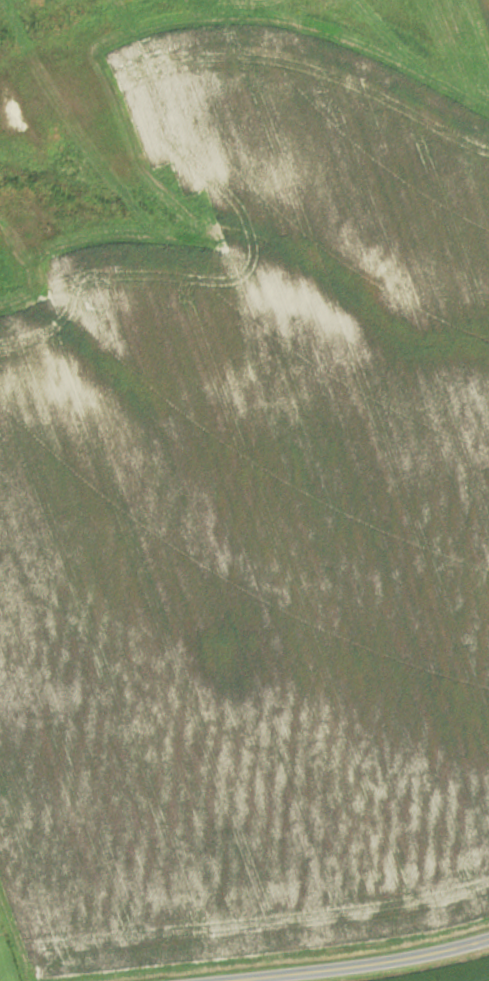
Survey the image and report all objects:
road: (341, 963)

